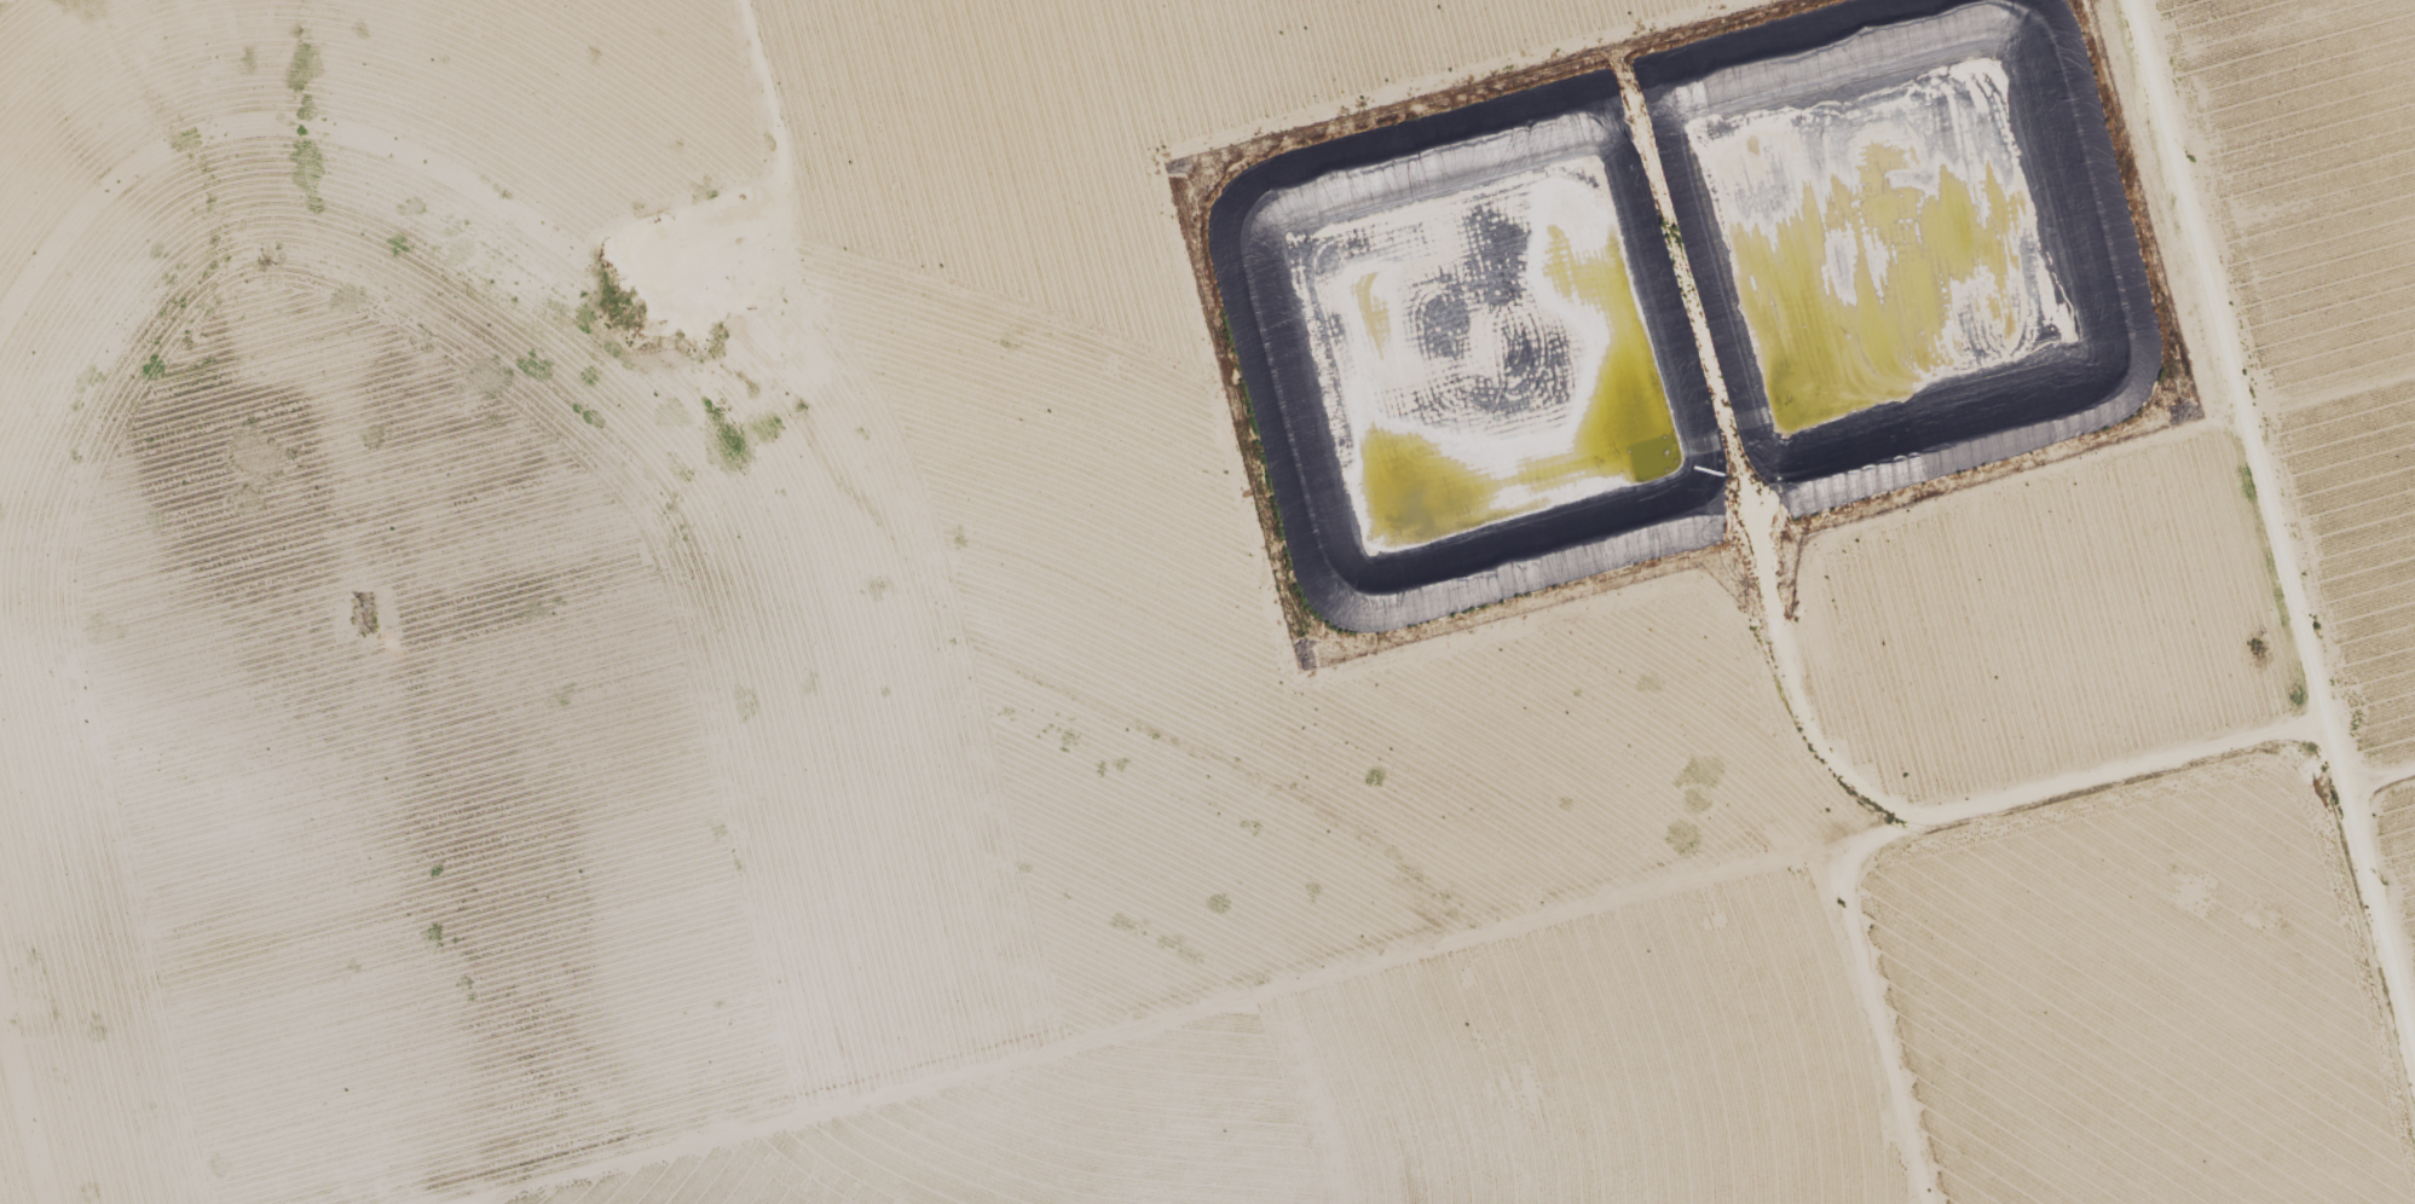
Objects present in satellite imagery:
road: (2277, 499)
road: (1463, 955)
road: (1858, 1050)

